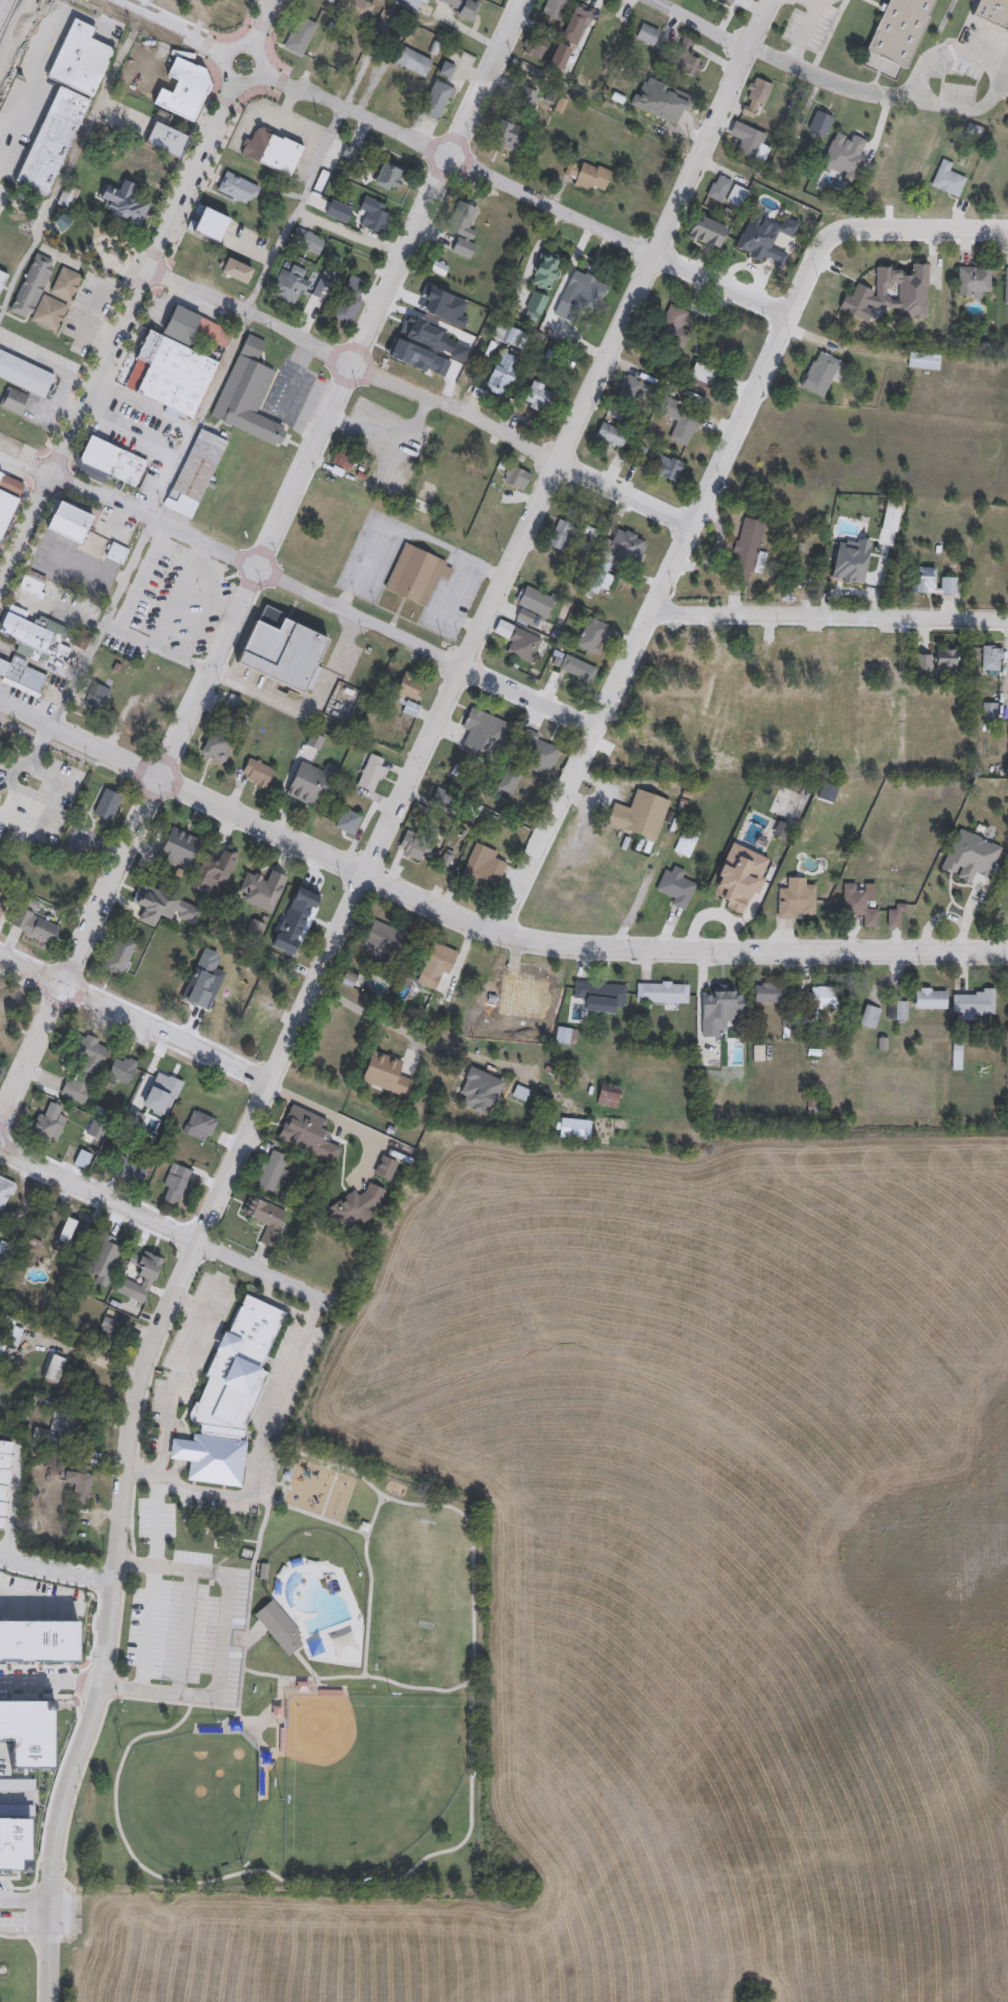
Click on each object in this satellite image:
building: (728, 2)
road: (810, 3)
road: (819, 3)
building: (410, 4)
road: (141, 6)
building: (464, 7)
building: (355, 8)
building: (554, 9)
building: (993, 11)
road: (14, 13)
building: (579, 16)
road: (50, 21)
road: (704, 23)
road: (767, 23)
road: (264, 24)
road: (167, 27)
road: (260, 27)
building: (900, 29)
road: (243, 30)
building: (603, 31)
road: (4, 34)
road: (24, 34)
building: (646, 34)
road: (805, 34)
building: (300, 35)
road: (272, 37)
road: (205, 47)
road: (259, 54)
road: (368, 54)
building: (685, 58)
road: (945, 58)
building: (80, 59)
building: (412, 60)
building: (449, 62)
building: (342, 66)
road: (282, 83)
road: (1001, 85)
building: (184, 88)
road: (28, 90)
building: (527, 95)
road: (874, 95)
building: (755, 98)
building: (436, 99)
road: (225, 102)
building: (668, 104)
building: (819, 123)
building: (504, 134)
road: (3, 137)
building: (52, 140)
building: (166, 140)
building: (746, 141)
road: (3, 146)
building: (272, 151)
road: (213, 164)
building: (587, 176)
building: (388, 177)
building: (947, 182)
building: (816, 186)
building: (237, 188)
building: (718, 188)
road: (525, 192)
building: (736, 196)
building: (68, 197)
building: (125, 208)
building: (337, 210)
road: (296, 211)
building: (374, 219)
building: (462, 220)
building: (63, 223)
building: (210, 224)
road: (50, 228)
road: (351, 231)
building: (705, 231)
road: (918, 233)
building: (307, 240)
road: (121, 241)
park: (98, 243)
building: (463, 248)
building: (749, 248)
road: (250, 249)
road: (140, 256)
road: (25, 260)
road: (111, 262)
building: (438, 268)
building: (237, 272)
road: (164, 276)
building: (2, 278)
building: (974, 282)
building: (66, 284)
building: (1006, 285)
building: (287, 287)
building: (321, 289)
building: (580, 292)
building: (40, 295)
building: (890, 296)
building: (348, 302)
road: (89, 327)
building: (673, 328)
building: (194, 331)
building: (507, 334)
road: (117, 336)
building: (923, 360)
road: (51, 366)
building: (24, 373)
building: (502, 374)
building: (702, 374)
building: (822, 374)
building: (175, 376)
road: (112, 377)
road: (341, 390)
building: (628, 392)
building: (248, 394)
road: (422, 395)
building: (538, 397)
building: (15, 401)
road: (144, 406)
road: (60, 411)
road: (198, 416)
building: (681, 420)
road: (131, 435)
building: (611, 436)
building: (342, 460)
building: (111, 461)
road: (563, 462)
road: (73, 467)
building: (666, 468)
building: (195, 473)
building: (455, 476)
building: (516, 478)
building: (8, 499)
building: (890, 517)
road: (16, 518)
building: (71, 523)
parking lot: (115, 527)
building: (561, 536)
building: (625, 548)
road: (43, 553)
building: (745, 553)
building: (117, 554)
road: (198, 554)
road: (28, 558)
road: (281, 560)
parking lot: (74, 567)
building: (416, 575)
road: (231, 577)
building: (599, 578)
building: (924, 581)
building: (32, 582)
building: (948, 587)
road: (663, 588)
road: (298, 590)
parking lot: (72, 600)
building: (535, 602)
parking lot: (181, 604)
road: (173, 606)
road: (208, 610)
road: (59, 612)
road: (829, 618)
road: (102, 624)
building: (185, 626)
road: (120, 627)
building: (31, 636)
building: (594, 638)
building: (519, 642)
building: (782, 643)
building: (282, 650)
building: (945, 661)
building: (990, 661)
building: (679, 662)
building: (922, 664)
building: (577, 669)
building: (22, 676)
building: (405, 687)
building: (97, 696)
road: (51, 697)
road: (307, 707)
building: (411, 709)
building: (141, 716)
building: (483, 733)
building: (5, 738)
building: (216, 744)
building: (637, 747)
road: (65, 749)
building: (763, 751)
building: (535, 752)
road: (81, 764)
road: (16, 767)
building: (256, 773)
building: (371, 775)
building: (508, 780)
building: (310, 783)
road: (56, 791)
building: (830, 794)
building: (108, 805)
building: (639, 815)
building: (982, 818)
building: (348, 821)
road: (18, 825)
building: (417, 841)
building: (685, 842)
building: (180, 849)
building: (445, 862)
building: (483, 869)
building: (214, 874)
building: (675, 888)
building: (262, 891)
building: (796, 900)
building: (859, 903)
building: (722, 904)
building: (309, 908)
building: (2, 911)
building: (895, 918)
building: (998, 918)
building: (35, 927)
road: (480, 928)
building: (386, 940)
road: (78, 947)
building: (120, 955)
building: (434, 966)
building: (531, 985)
building: (599, 993)
building: (767, 994)
building: (662, 995)
building: (723, 996)
building: (213, 999)
building: (931, 999)
building: (11, 1000)
building: (818, 1003)
building: (973, 1003)
building: (897, 1011)
building: (260, 1017)
building: (869, 1018)
road: (135, 1022)
road: (423, 1037)
building: (84, 1066)
building: (123, 1068)
building: (167, 1086)
building: (480, 1090)
building: (608, 1099)
road: (339, 1121)
building: (48, 1125)
building: (200, 1126)
building: (574, 1129)
building: (83, 1159)
building: (274, 1171)
building: (176, 1184)
building: (5, 1193)
building: (266, 1218)
road: (167, 1230)
building: (69, 1232)
building: (106, 1256)
road: (195, 1272)
building: (144, 1277)
road: (183, 1303)
road: (277, 1306)
building: (8, 1332)
building: (54, 1369)
road: (178, 1374)
road: (149, 1381)
road: (140, 1382)
building: (232, 1390)
building: (58, 1432)
road: (256, 1455)
road: (335, 1464)
road: (136, 1468)
building: (79, 1487)
building: (6, 1490)
building: (154, 1513)
road: (131, 1517)
road: (318, 1517)
parking lot: (157, 1519)
road: (155, 1521)
crop: (721, 1528)
road: (131, 1563)
road: (55, 1572)
parking lot: (37, 1602)
road: (44, 1605)
road: (119, 1624)
road: (148, 1627)
building: (278, 1627)
road: (186, 1633)
parking lot: (189, 1634)
road: (223, 1635)
building: (38, 1643)
road: (367, 1646)
road: (307, 1666)
road: (51, 1683)
road: (118, 1687)
road: (416, 1689)
park: (290, 1691)
road: (97, 1731)
building: (28, 1733)
park: (365, 1779)
parking lot: (16, 1786)
park: (191, 1800)
road: (16, 1801)
building: (15, 1845)
road: (282, 1880)
road: (24, 1901)
road: (66, 1912)
road: (23, 1925)
road: (15, 1938)
road: (50, 1939)
road: (47, 1964)
park: (16, 1970)
crop: (347, 1974)

